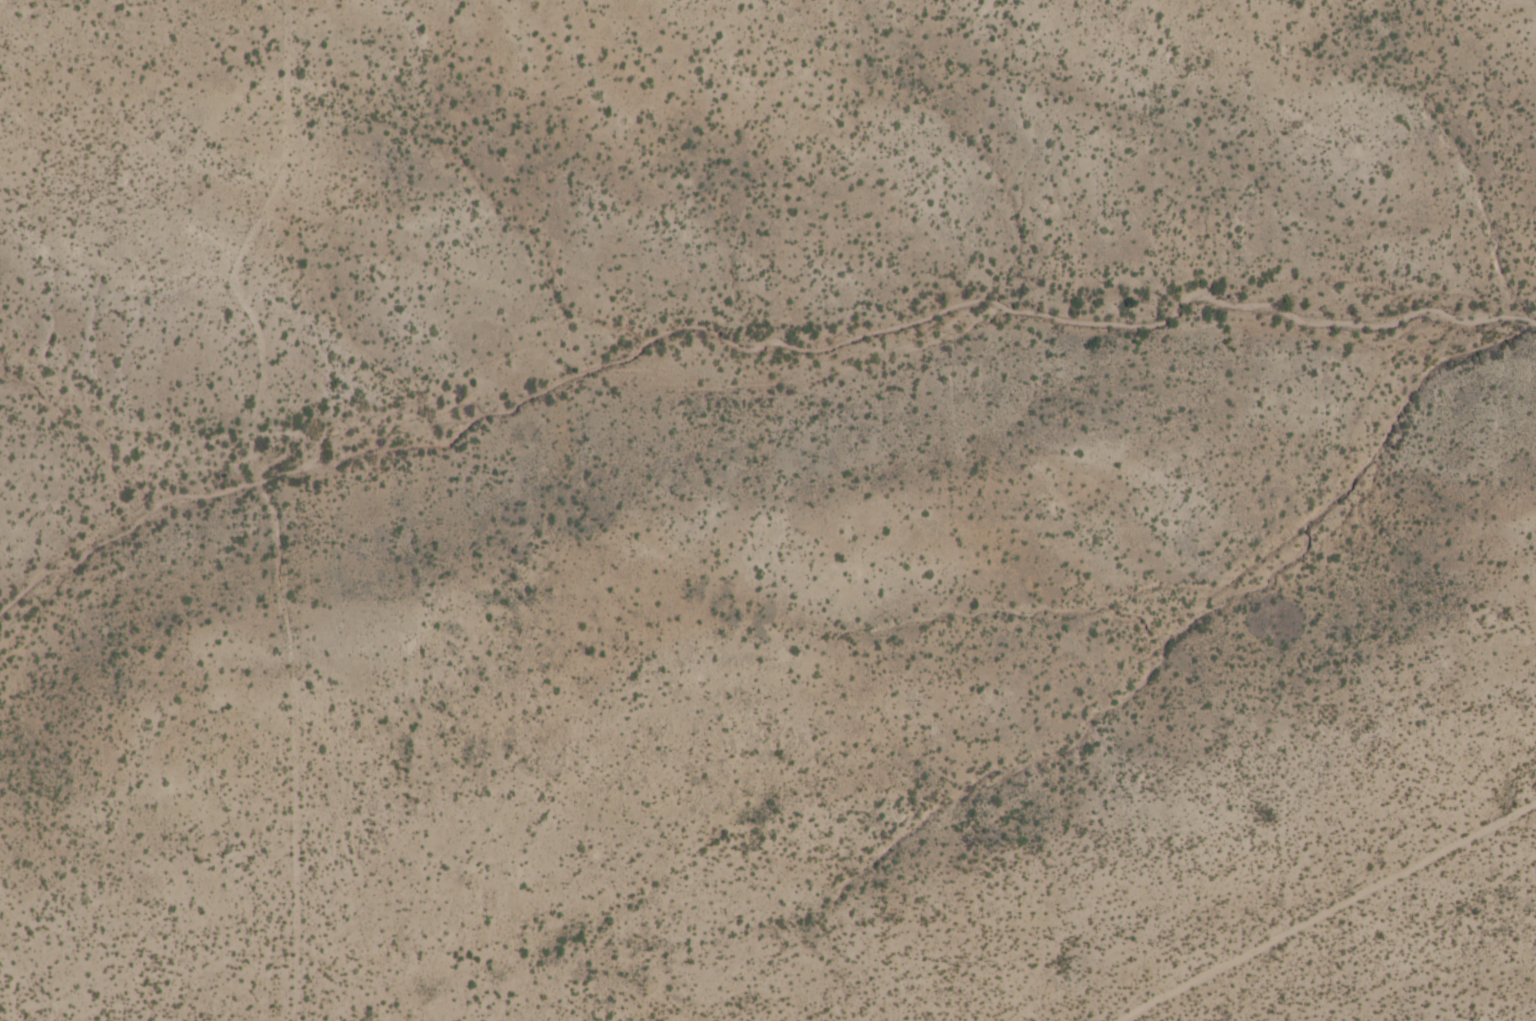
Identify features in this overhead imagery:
road: (263, 500)
road: (1331, 918)

